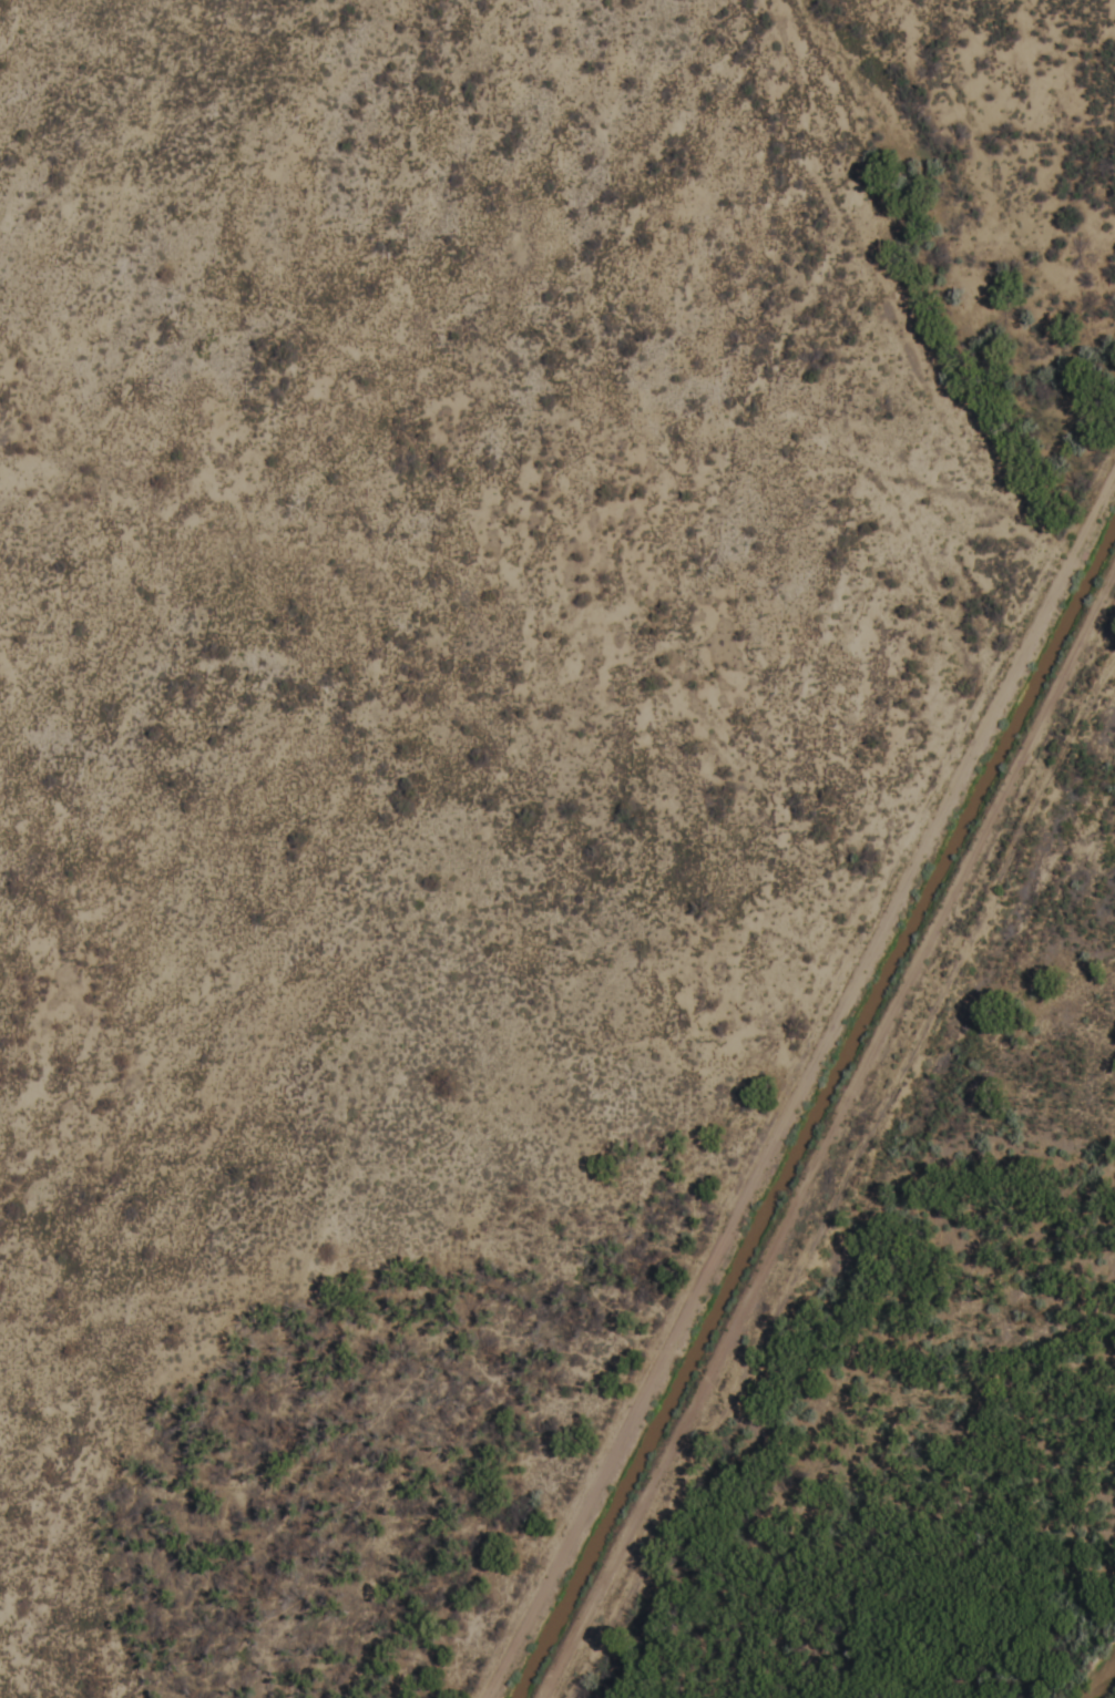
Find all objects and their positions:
river: (1108, 1687)

